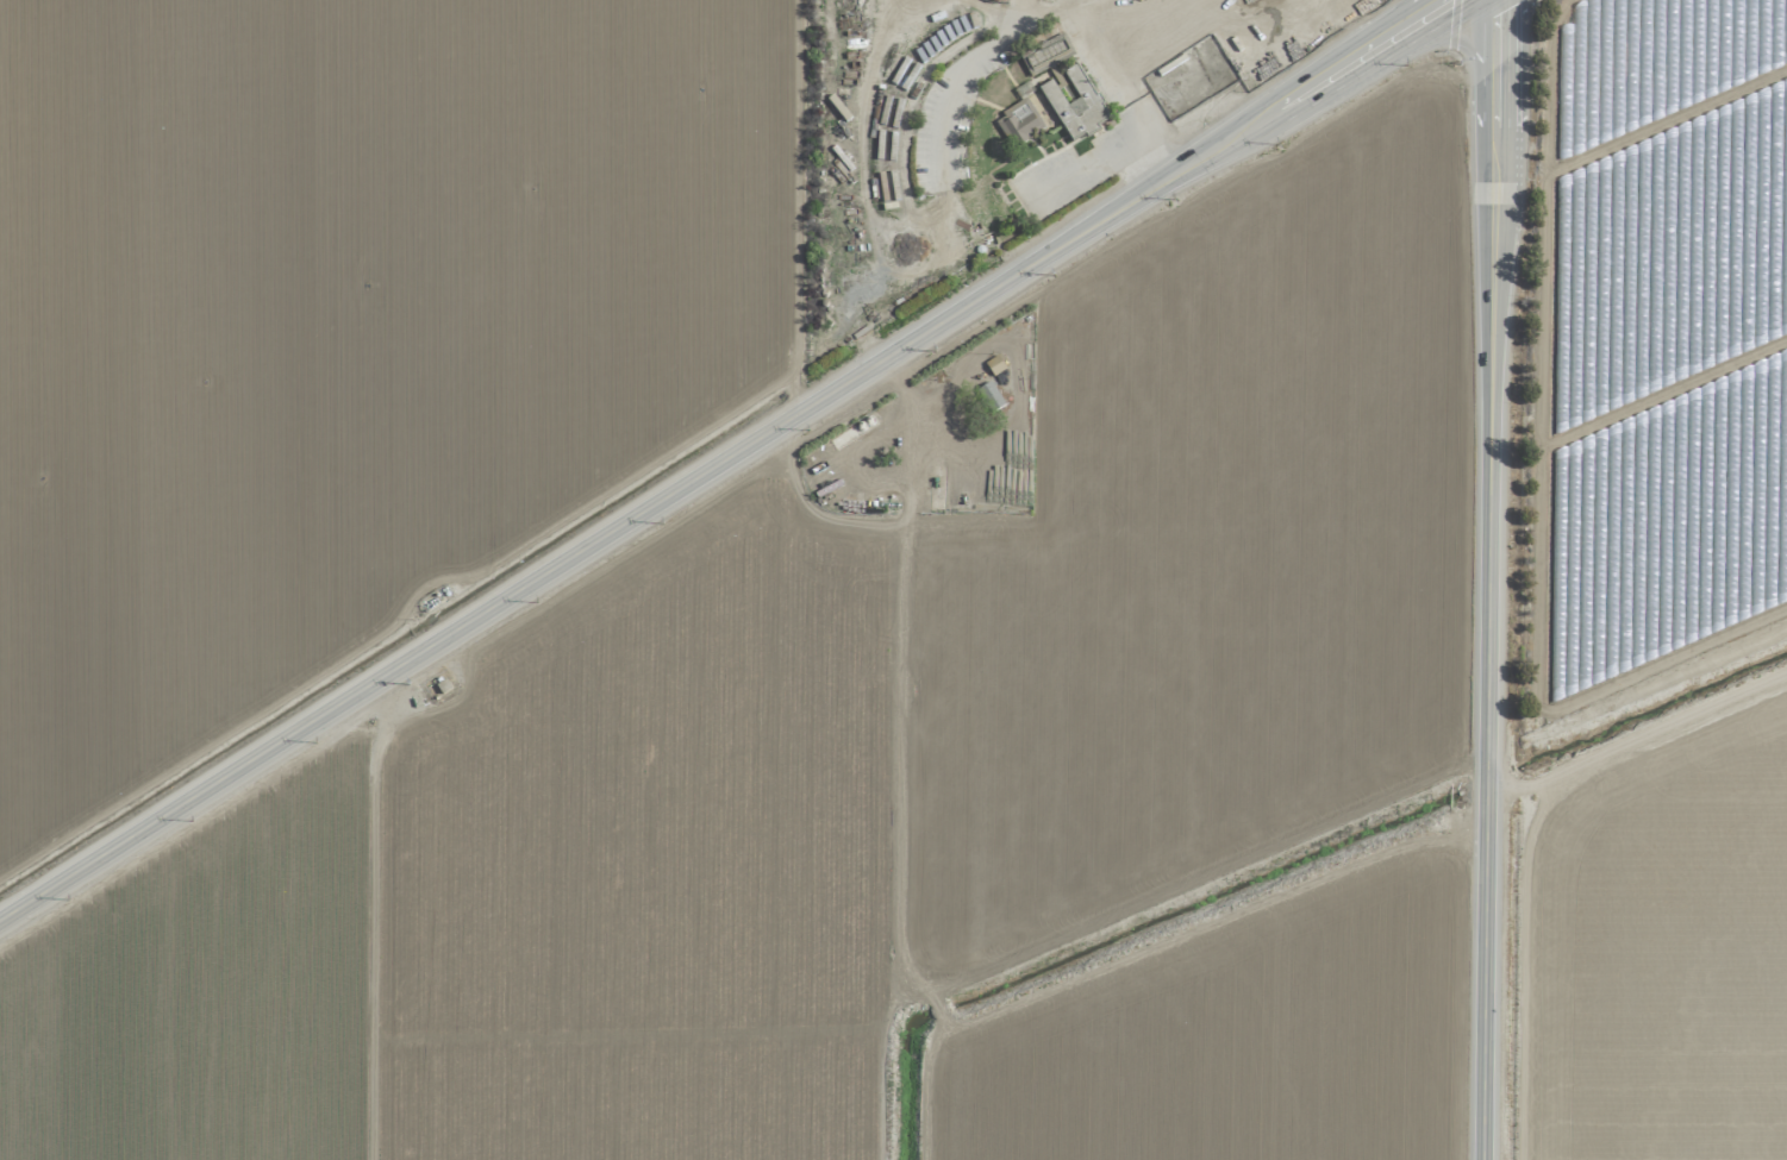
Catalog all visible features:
building: (995, 0)
road: (1104, 38)
building: (1045, 52)
building: (1075, 105)
building: (1018, 121)
road: (1154, 134)
road: (795, 203)
crop: (342, 328)
crop: (1654, 355)
building: (994, 364)
building: (989, 396)
road: (721, 457)
road: (1489, 579)
crop: (904, 783)
road: (1426, 820)
crop: (1656, 958)

